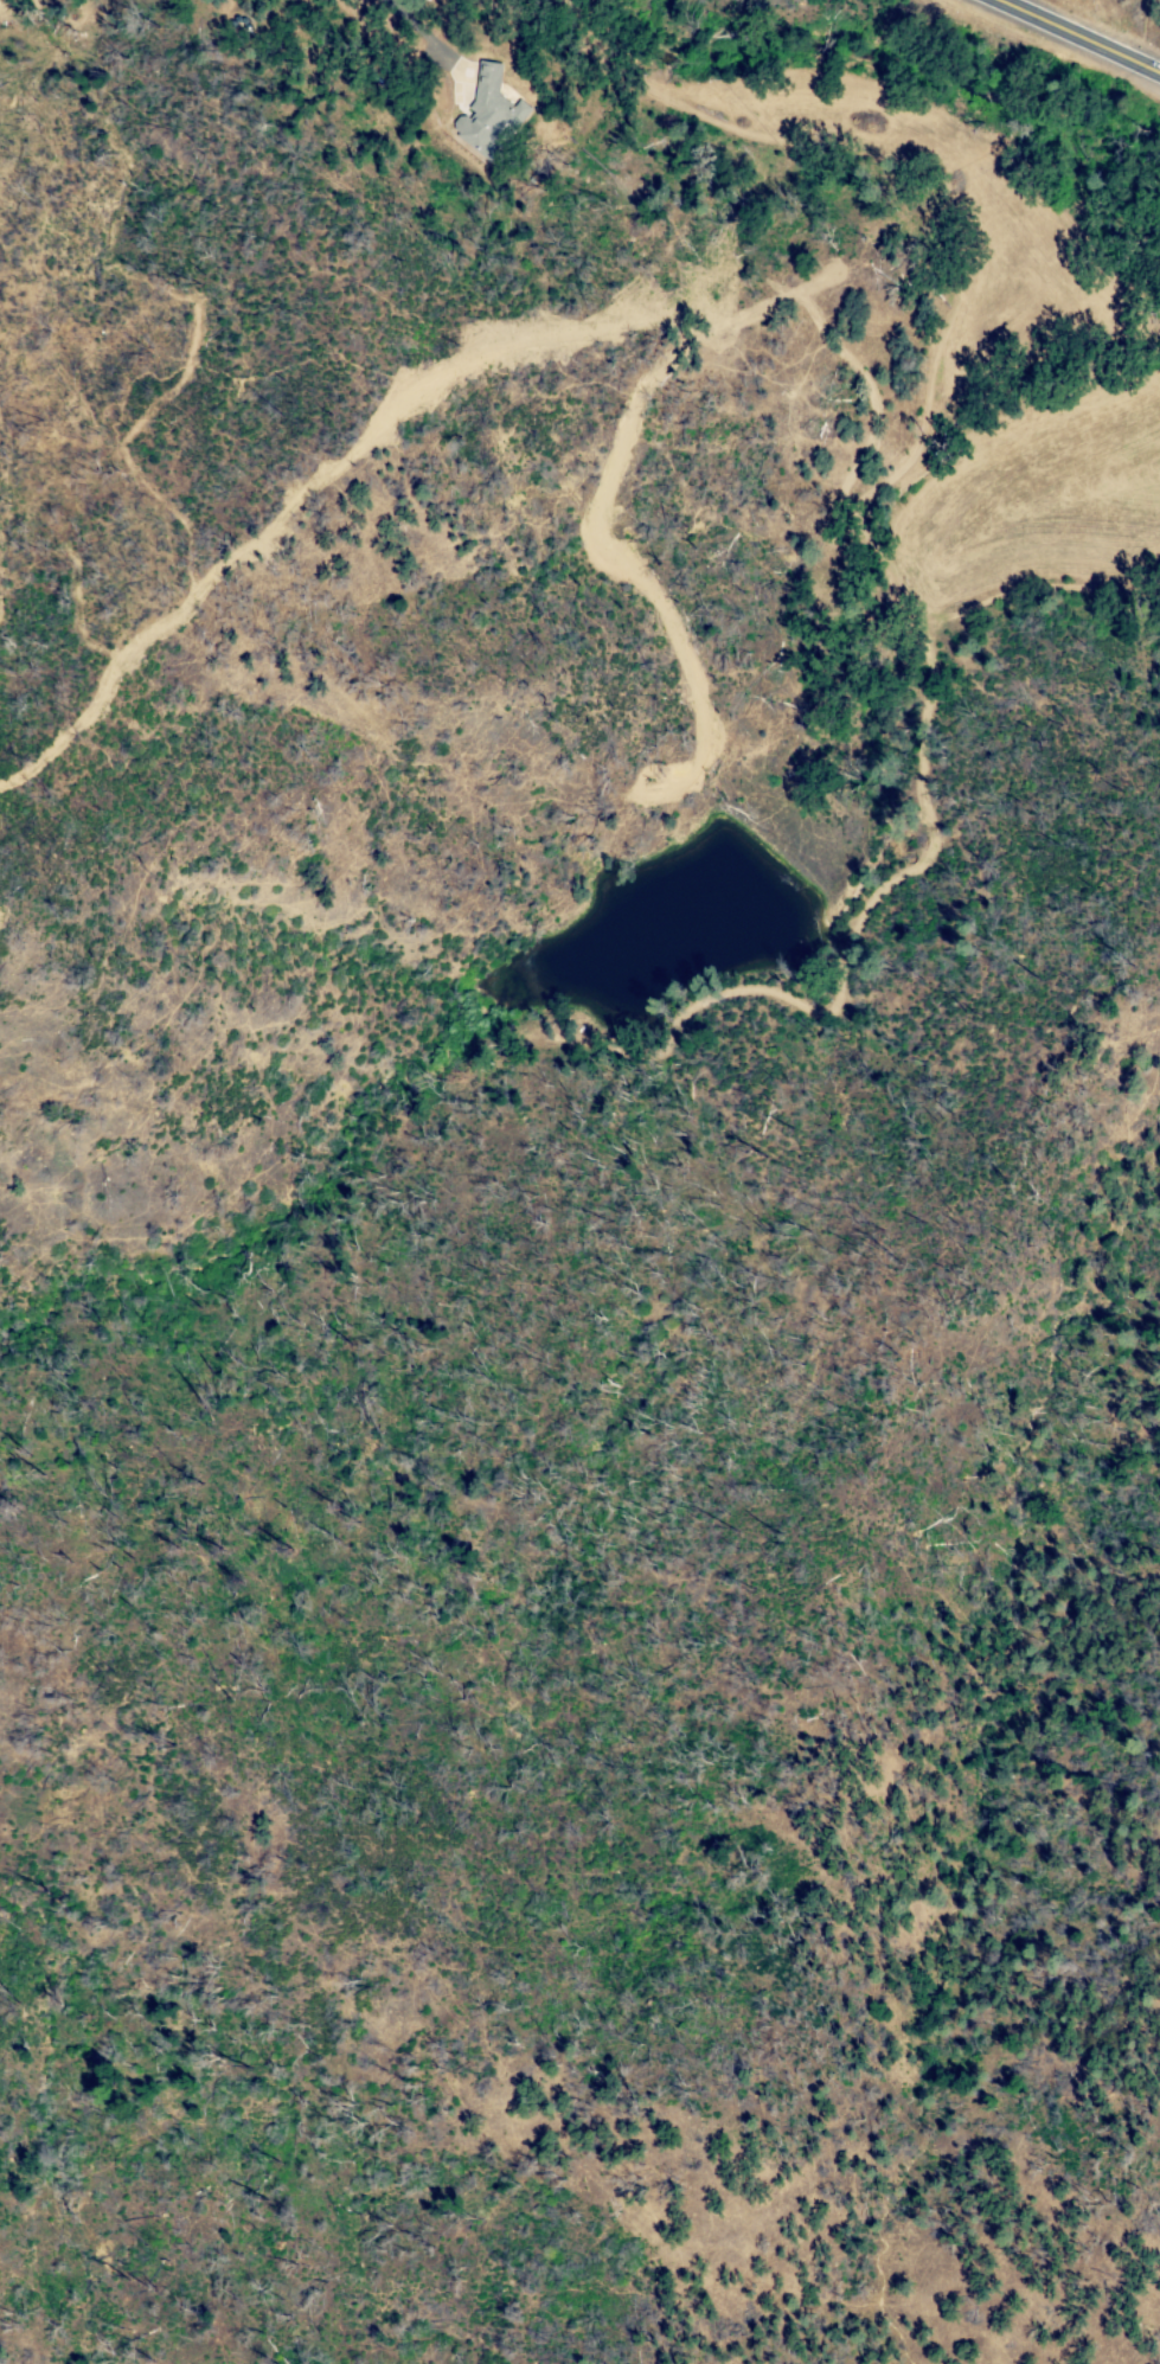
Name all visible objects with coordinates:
road: (414, 23)
road: (1091, 32)
building: (494, 111)

